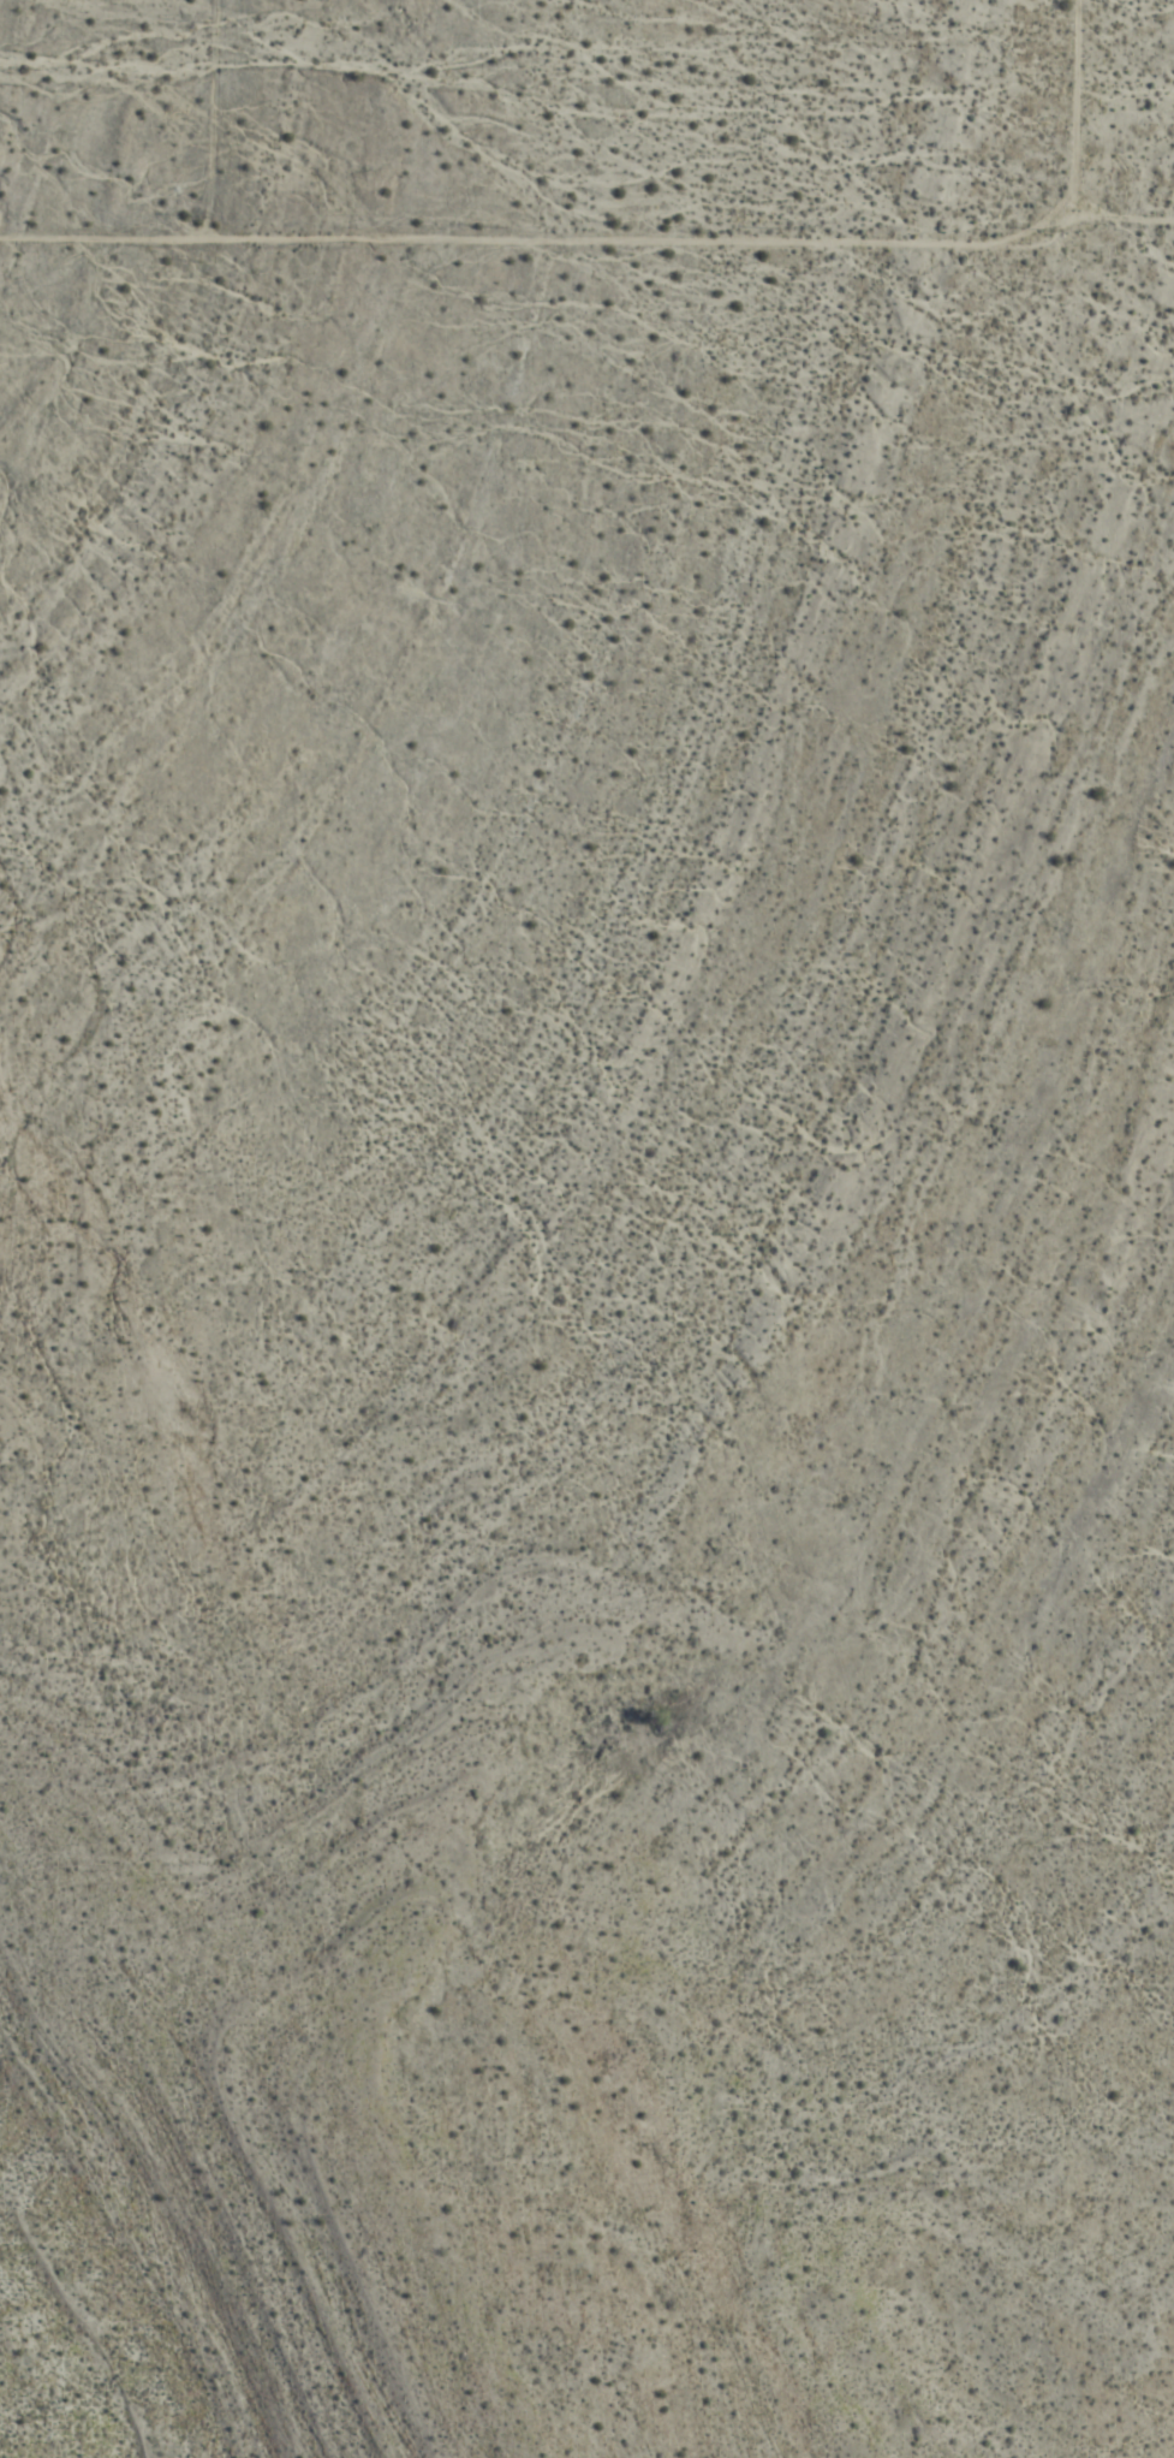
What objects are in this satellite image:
road: (1071, 93)

